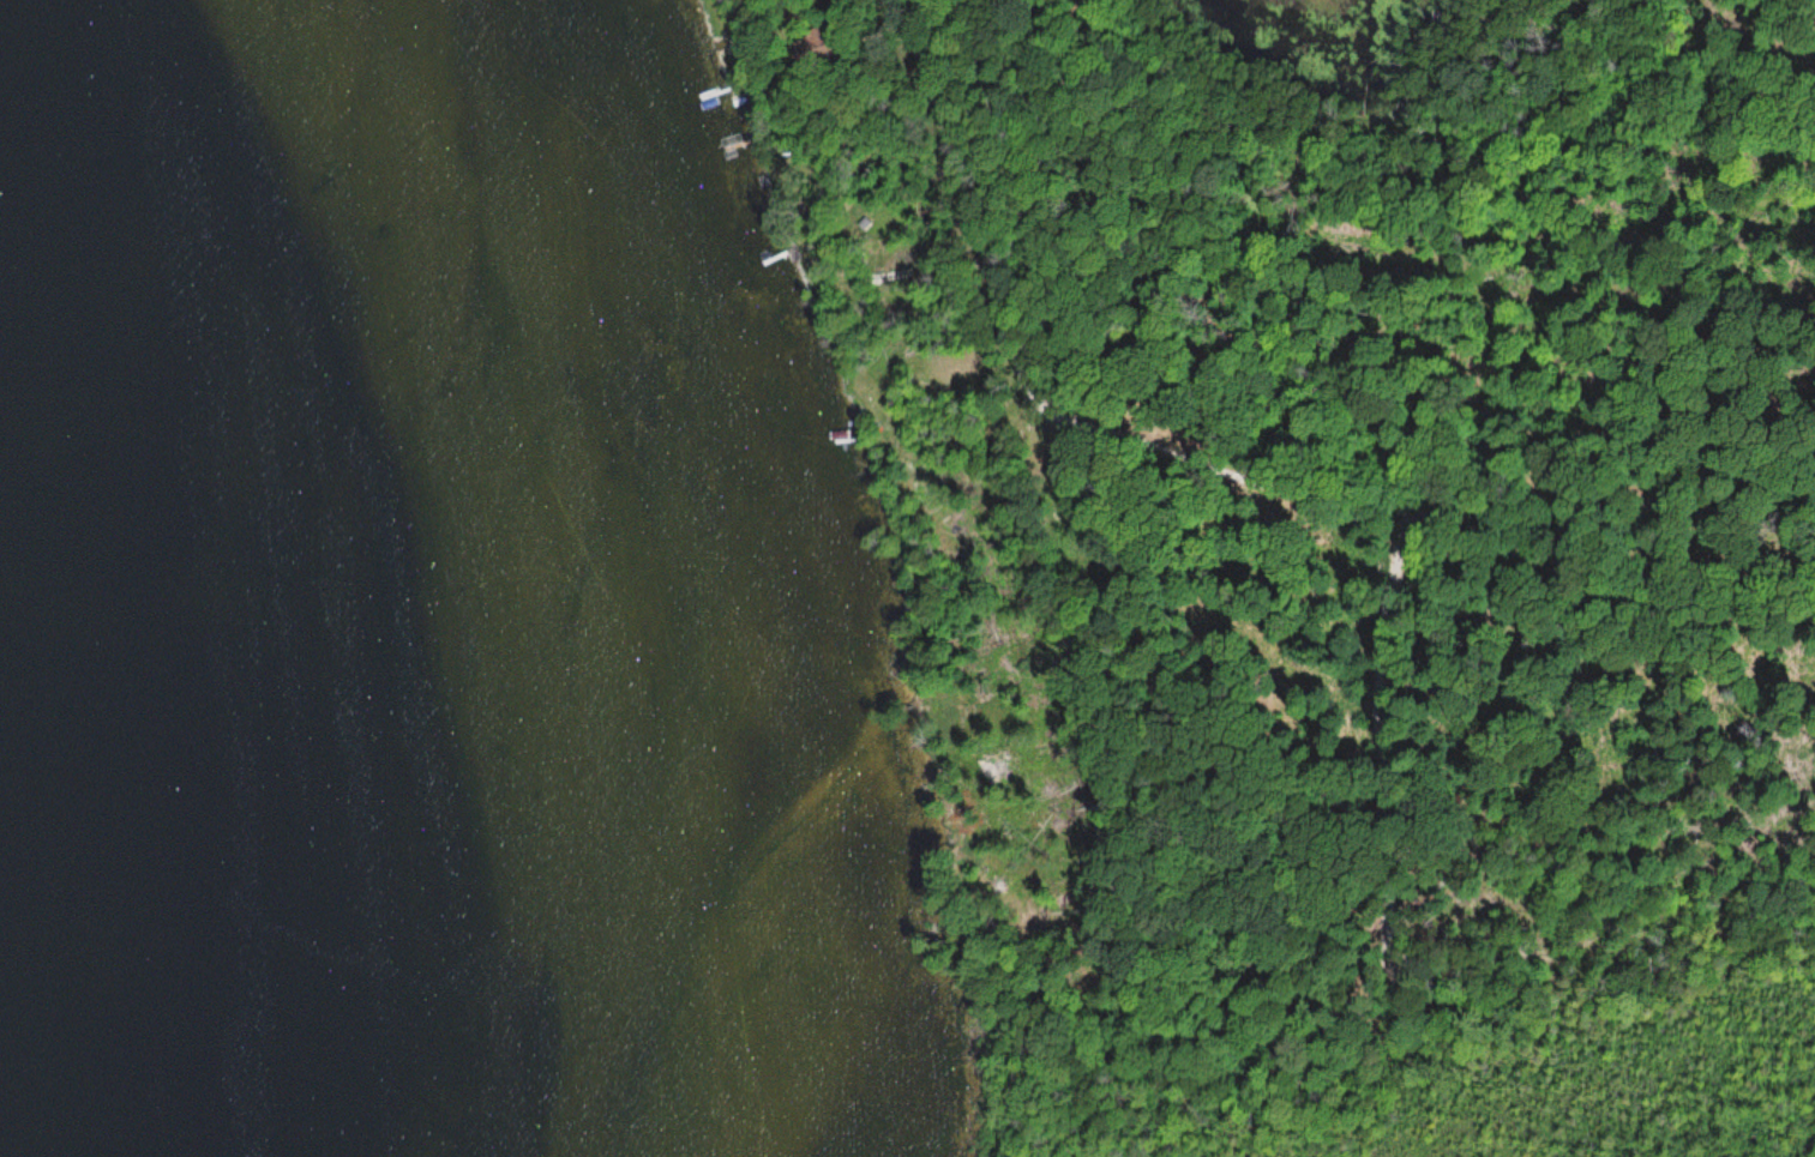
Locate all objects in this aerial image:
road: (1214, 463)

